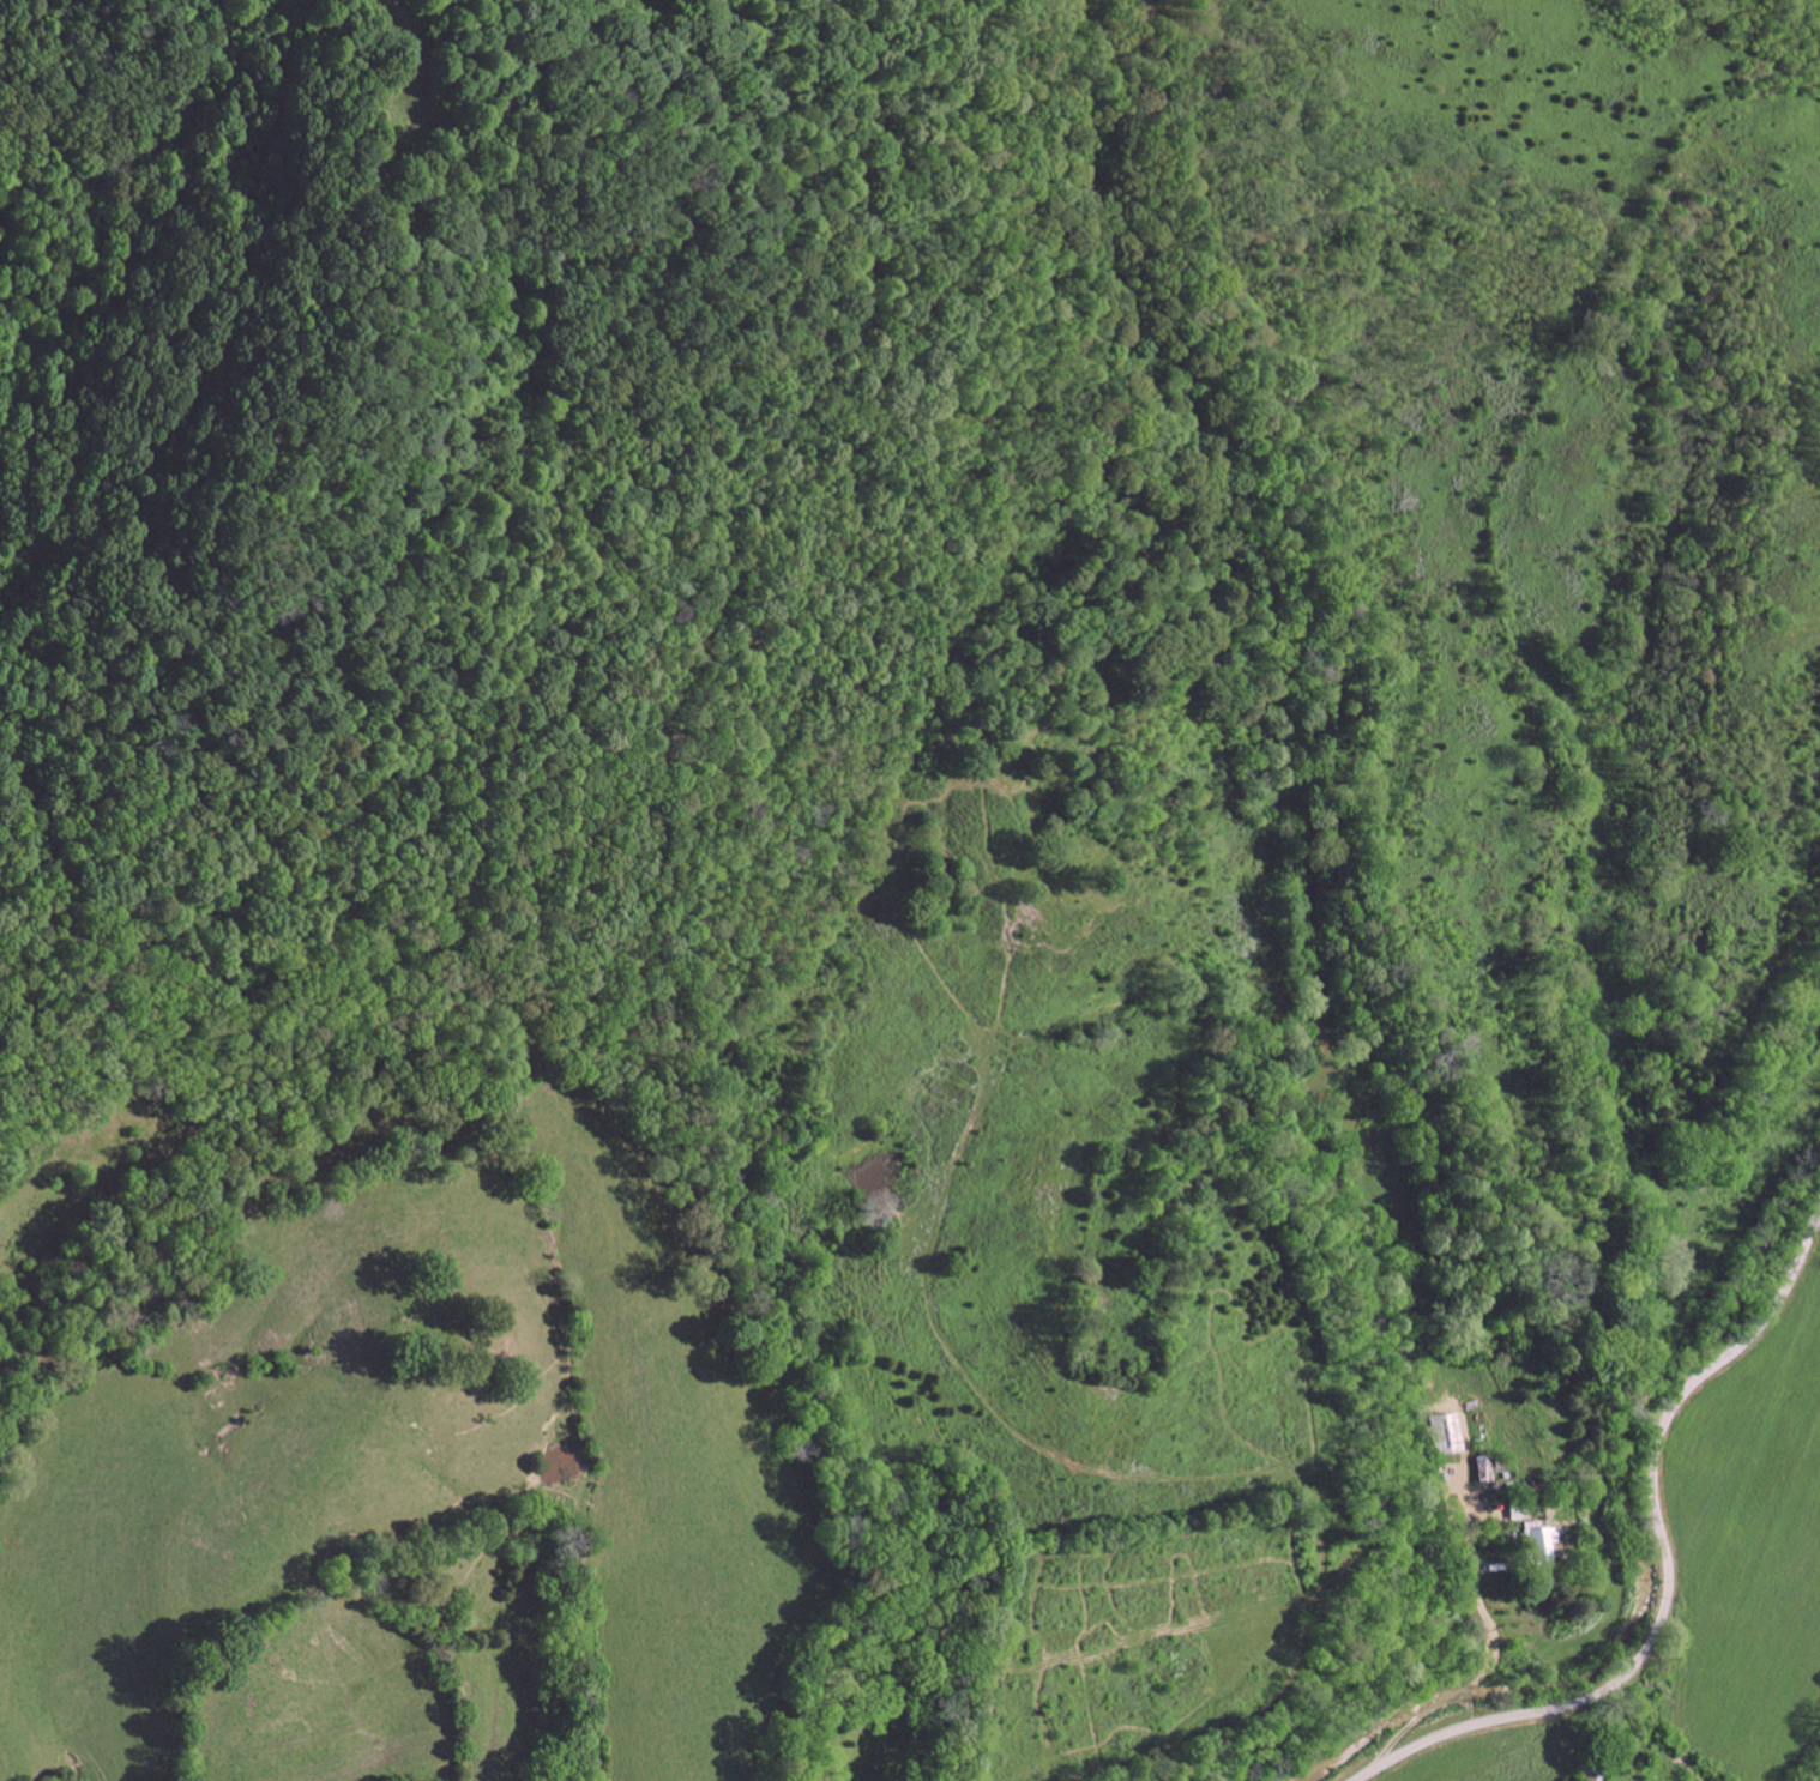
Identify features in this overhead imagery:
building: (1444, 1433)
building: (1536, 1544)
road: (1667, 1566)

